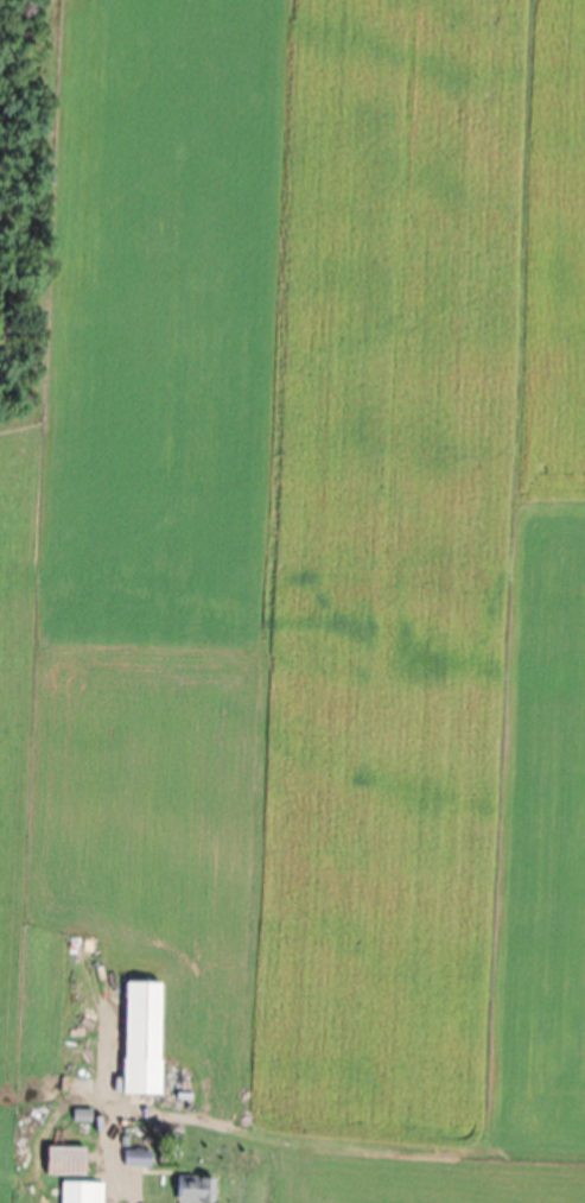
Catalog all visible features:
building: (142, 1038)
building: (24, 1142)
building: (138, 1158)
building: (66, 1160)
building: (196, 1190)
building: (82, 1192)

